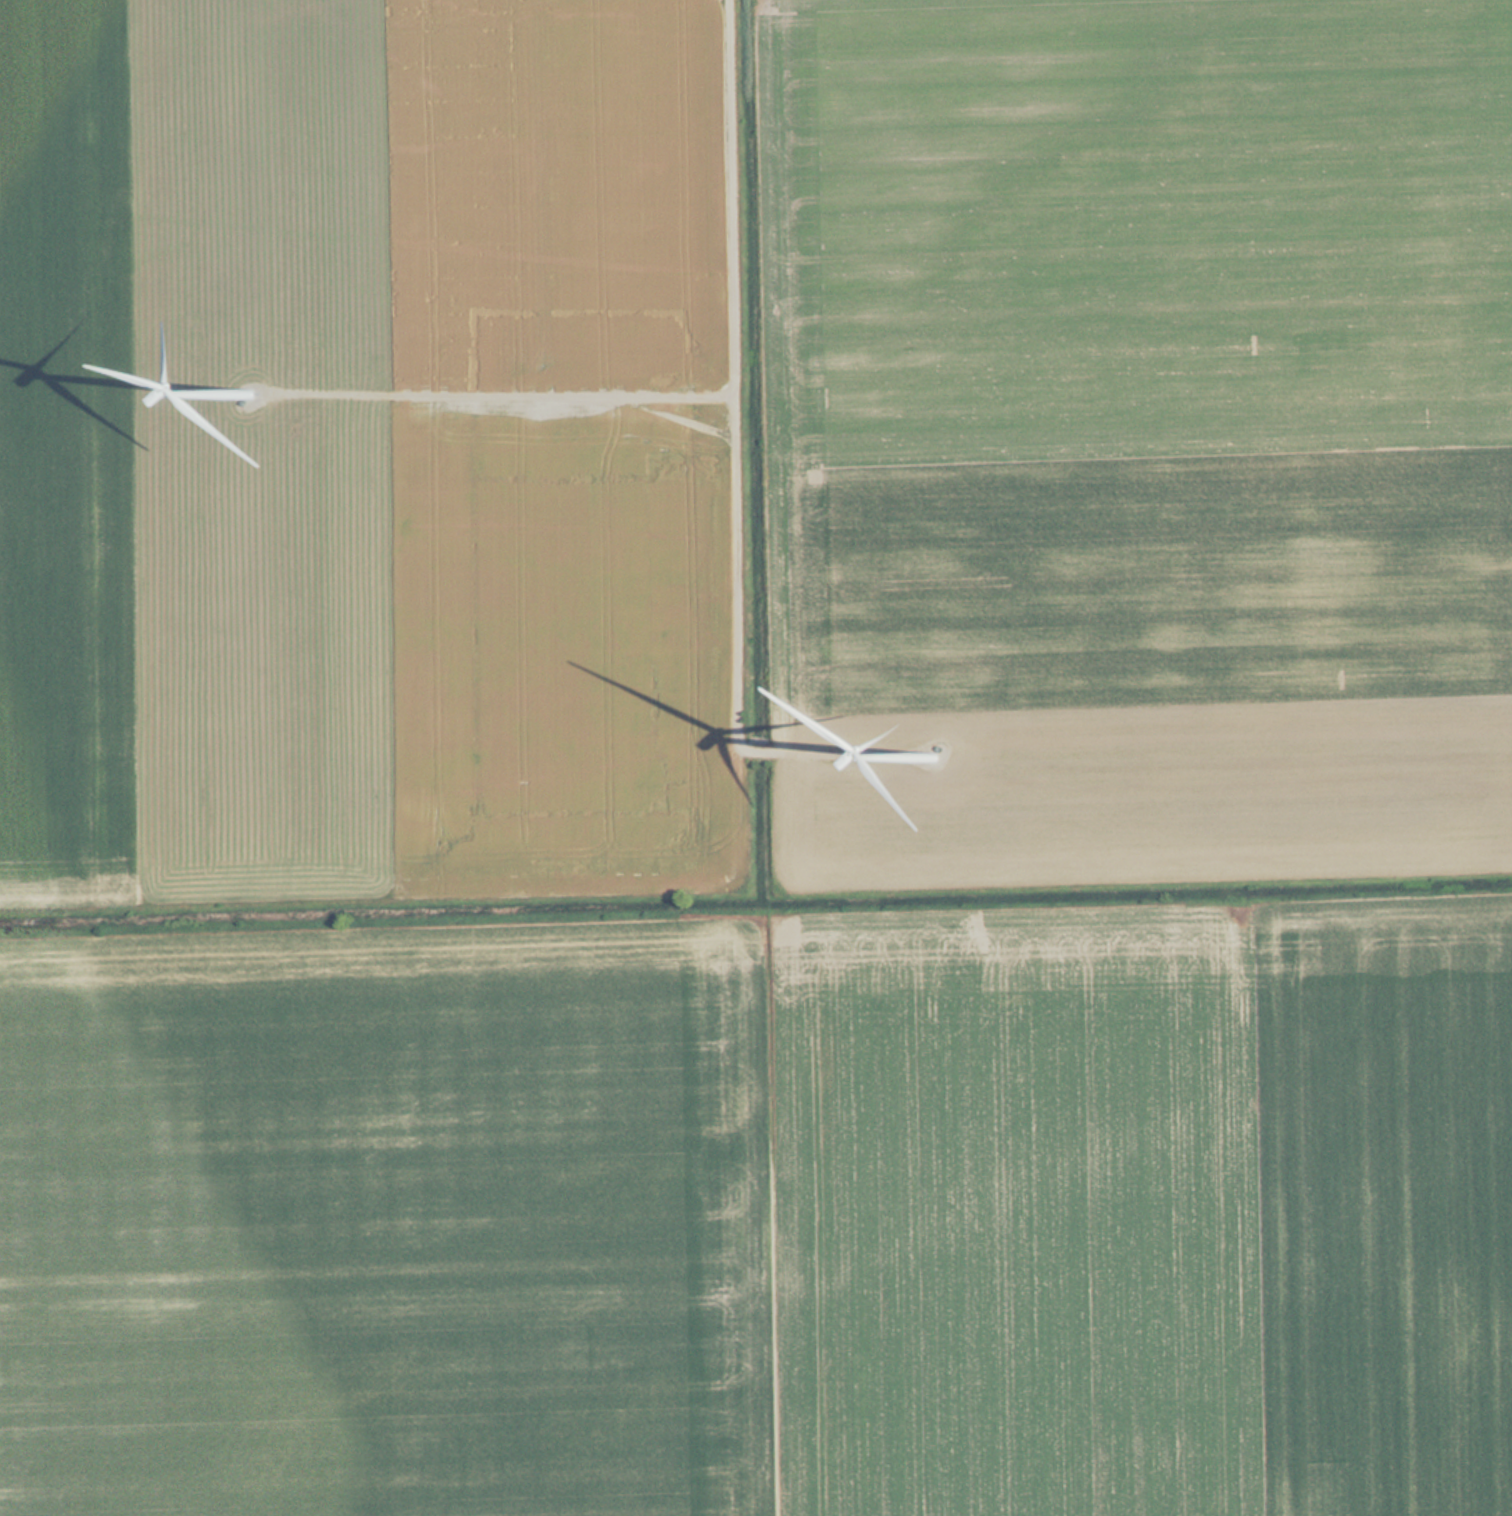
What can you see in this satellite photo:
wind turbine: (234, 373)
road: (515, 399)
road: (730, 418)
wind turbine: (926, 741)

